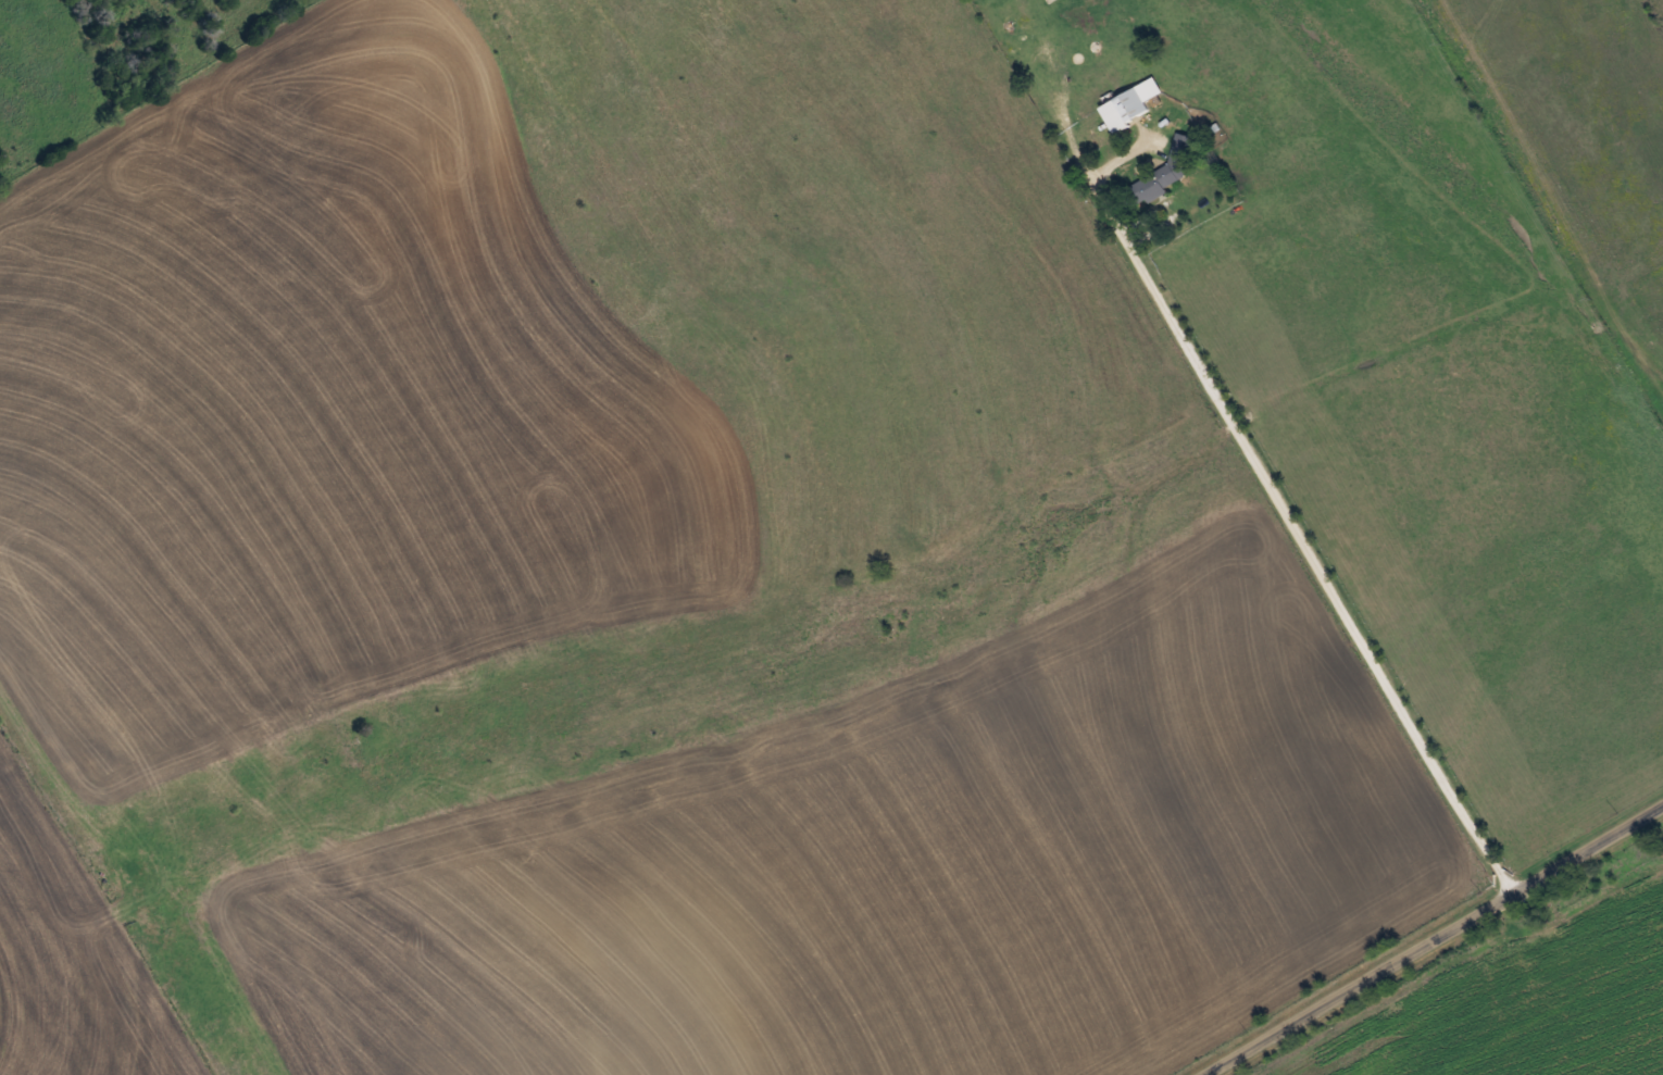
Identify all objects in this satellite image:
building: (1129, 103)
building: (1161, 174)
road: (1573, 586)
road: (1418, 932)

